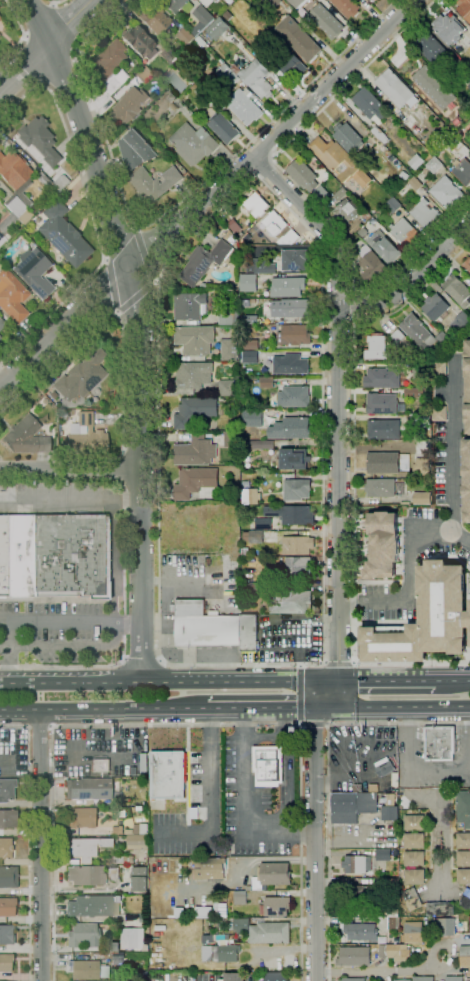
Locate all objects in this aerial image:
building: (215, 0)
building: (303, 0)
building: (306, 0)
building: (371, 0)
building: (373, 0)
road: (56, 2)
building: (206, 2)
building: (294, 2)
building: (271, 3)
building: (175, 5)
building: (296, 7)
building: (347, 7)
building: (464, 9)
building: (229, 16)
road: (39, 19)
road: (68, 19)
building: (154, 19)
building: (202, 19)
building: (324, 21)
building: (220, 26)
building: (448, 28)
road: (22, 32)
building: (186, 36)
building: (298, 39)
building: (137, 40)
building: (200, 40)
road: (46, 45)
building: (203, 45)
building: (469, 50)
building: (435, 52)
building: (167, 55)
building: (288, 63)
road: (28, 64)
building: (107, 67)
building: (465, 72)
building: (142, 73)
building: (189, 75)
building: (256, 75)
building: (227, 76)
road: (66, 86)
building: (469, 86)
building: (394, 88)
building: (205, 93)
building: (439, 94)
building: (170, 97)
building: (127, 105)
building: (370, 105)
building: (173, 106)
building: (244, 106)
building: (166, 114)
building: (465, 116)
building: (224, 128)
building: (379, 134)
building: (348, 137)
building: (39, 139)
building: (193, 144)
building: (456, 145)
building: (132, 149)
building: (391, 151)
building: (339, 161)
building: (416, 161)
building: (434, 165)
building: (457, 167)
road: (265, 168)
building: (15, 174)
building: (303, 175)
building: (403, 175)
building: (61, 181)
building: (48, 183)
building: (152, 183)
building: (415, 183)
road: (301, 191)
building: (402, 191)
building: (446, 192)
building: (321, 193)
road: (209, 194)
building: (341, 194)
building: (257, 205)
building: (393, 205)
road: (170, 209)
building: (345, 211)
road: (91, 213)
building: (424, 213)
building: (13, 216)
building: (274, 223)
road: (312, 224)
building: (234, 226)
road: (136, 228)
building: (404, 233)
building: (63, 235)
building: (2, 239)
building: (287, 239)
building: (232, 240)
road: (121, 244)
building: (384, 248)
road: (144, 253)
road: (105, 260)
building: (295, 260)
building: (205, 261)
building: (370, 264)
building: (466, 264)
building: (261, 266)
building: (33, 272)
road: (156, 275)
road: (411, 281)
building: (248, 283)
road: (112, 285)
building: (288, 287)
building: (457, 291)
road: (138, 294)
road: (336, 294)
building: (12, 296)
building: (246, 303)
building: (190, 305)
road: (355, 306)
building: (435, 307)
building: (291, 308)
building: (245, 311)
road: (116, 312)
road: (109, 313)
building: (227, 317)
building: (250, 321)
building: (459, 321)
building: (2, 323)
road: (140, 329)
building: (421, 332)
building: (294, 335)
building: (0, 338)
building: (195, 340)
building: (405, 342)
building: (250, 345)
building: (377, 348)
building: (229, 350)
building: (251, 357)
building: (291, 364)
building: (420, 370)
building: (81, 374)
building: (193, 375)
building: (382, 378)
building: (267, 382)
building: (467, 384)
building: (226, 387)
building: (413, 392)
building: (52, 394)
building: (294, 397)
building: (382, 403)
building: (194, 410)
building: (251, 418)
building: (420, 421)
building: (294, 428)
building: (384, 429)
building: (87, 436)
building: (25, 437)
building: (260, 442)
road: (451, 443)
building: (203, 449)
building: (425, 449)
road: (140, 452)
road: (339, 458)
building: (294, 459)
building: (382, 463)
road: (70, 467)
road: (120, 467)
building: (422, 467)
building: (410, 472)
building: (404, 475)
building: (407, 476)
building: (412, 477)
building: (466, 477)
road: (353, 478)
building: (195, 482)
building: (380, 487)
building: (406, 487)
road: (140, 490)
building: (297, 490)
building: (249, 497)
building: (422, 498)
road: (70, 504)
building: (294, 515)
building: (263, 524)
building: (244, 526)
building: (272, 534)
building: (251, 535)
road: (461, 535)
building: (268, 540)
building: (297, 545)
building: (382, 546)
building: (245, 552)
building: (53, 555)
road: (112, 561)
building: (298, 566)
road: (123, 572)
building: (255, 578)
building: (254, 587)
road: (409, 588)
building: (291, 602)
building: (445, 608)
road: (323, 610)
road: (71, 620)
building: (468, 624)
building: (204, 625)
road: (109, 632)
building: (249, 634)
building: (394, 639)
road: (54, 645)
road: (8, 649)
road: (140, 657)
road: (339, 661)
road: (352, 663)
road: (325, 664)
road: (338, 664)
road: (300, 666)
road: (452, 677)
road: (166, 678)
traffic signals: (333, 678)
road: (384, 678)
road: (300, 695)
traffic signals: (320, 710)
road: (395, 710)
road: (103, 711)
road: (263, 711)
road: (469, 717)
road: (285, 723)
road: (397, 724)
road: (314, 725)
road: (39, 727)
road: (51, 727)
building: (195, 734)
road: (264, 736)
building: (439, 743)
road: (185, 760)
building: (143, 764)
building: (100, 766)
building: (267, 766)
building: (384, 767)
road: (414, 770)
building: (167, 775)
road: (186, 775)
road: (285, 785)
building: (87, 788)
building: (6, 789)
road: (198, 792)
road: (210, 799)
building: (367, 803)
road: (243, 808)
building: (344, 808)
building: (463, 808)
building: (390, 813)
building: (80, 817)
building: (7, 818)
building: (414, 823)
road: (440, 823)
building: (144, 829)
road: (186, 829)
building: (117, 830)
building: (128, 831)
road: (28, 840)
building: (118, 840)
building: (463, 840)
building: (414, 841)
building: (137, 842)
road: (315, 844)
road: (41, 846)
building: (5, 848)
building: (85, 848)
road: (301, 851)
road: (329, 852)
building: (383, 854)
building: (414, 858)
building: (463, 858)
building: (123, 860)
building: (355, 865)
building: (174, 866)
building: (209, 868)
building: (112, 871)
building: (275, 874)
building: (85, 875)
building: (7, 876)
building: (463, 876)
building: (414, 877)
building: (139, 879)
building: (262, 888)
road: (84, 890)
building: (250, 893)
building: (239, 897)
building: (361, 897)
building: (412, 899)
building: (465, 900)
building: (93, 905)
building: (7, 906)
building: (277, 907)
building: (440, 909)
building: (232, 911)
building: (392, 913)
building: (142, 919)
building: (411, 919)
building: (393, 923)
building: (241, 926)
building: (442, 926)
building: (213, 932)
building: (362, 932)
building: (269, 933)
building: (412, 933)
building: (6, 934)
building: (83, 935)
building: (135, 938)
building: (113, 946)
building: (395, 952)
building: (226, 953)
building: (354, 956)
building: (465, 957)
building: (118, 958)
building: (5, 961)
building: (83, 969)
road: (381, 970)
building: (257, 974)
building: (234, 977)
building: (277, 977)
building: (423, 978)
building: (354, 979)
building: (448, 979)
building: (402, 980)

